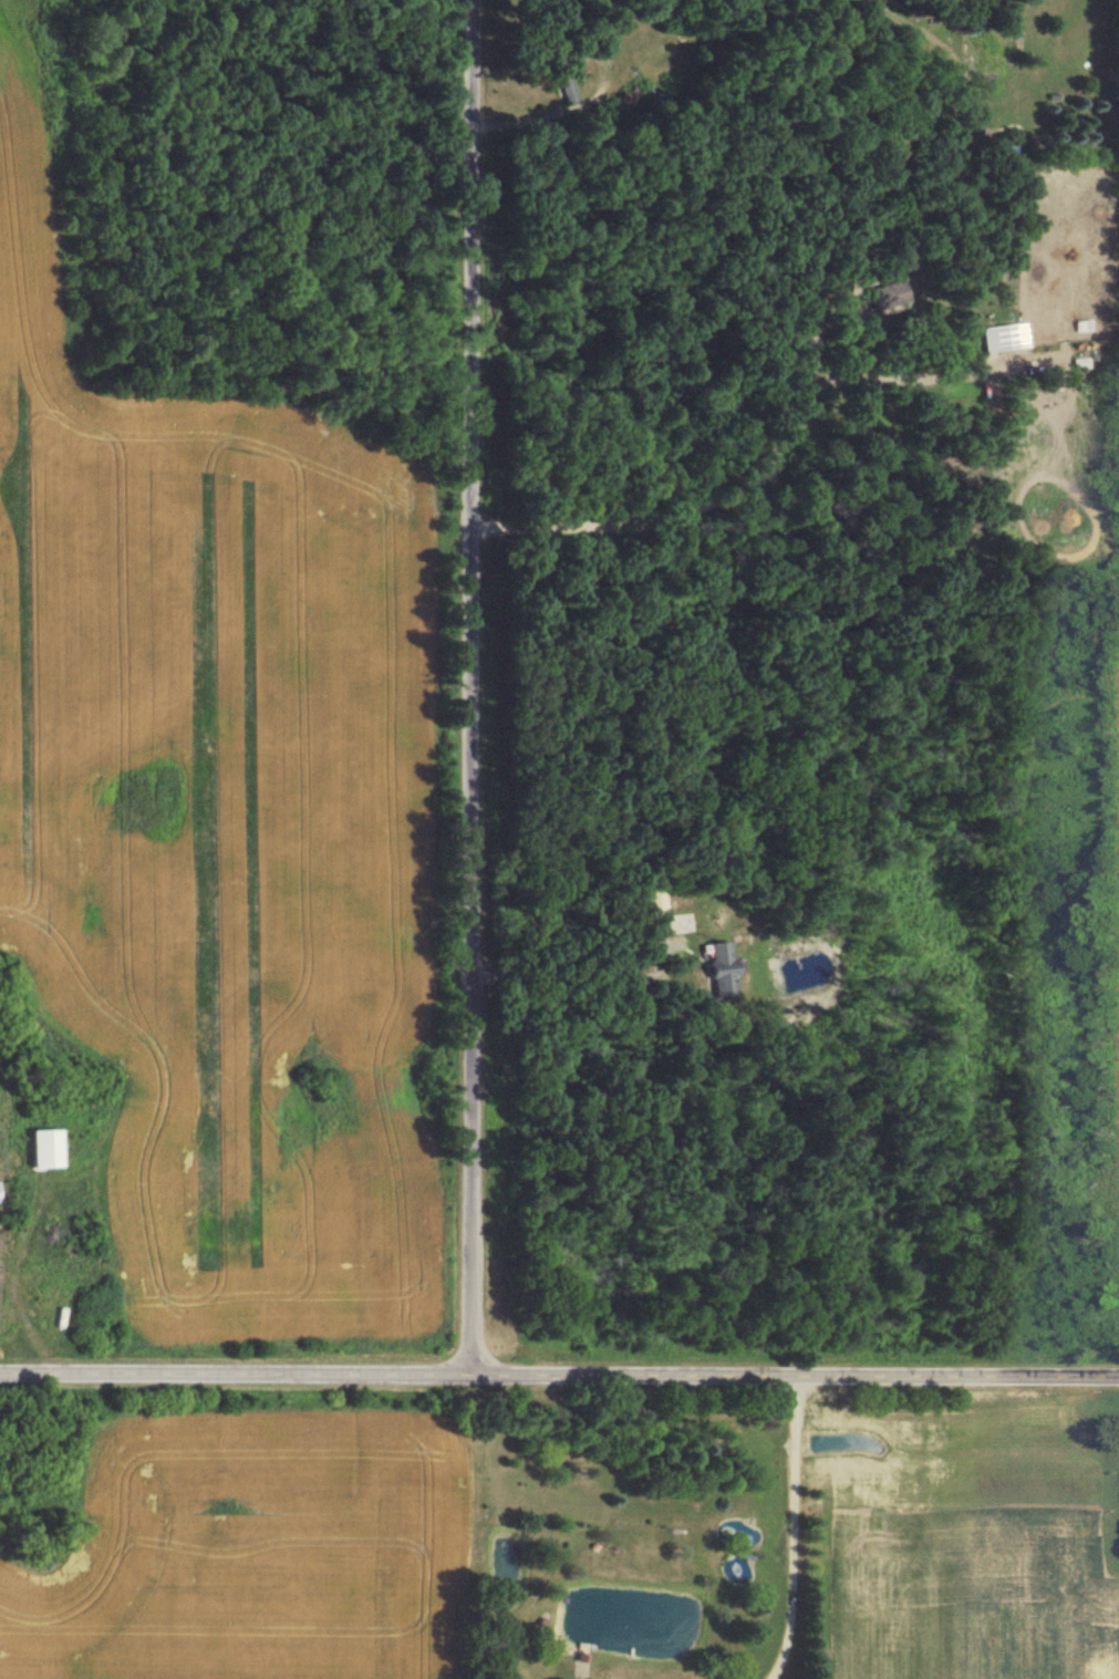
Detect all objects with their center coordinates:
building: (1002, 335)
road: (475, 688)
building: (721, 966)
building: (40, 1148)
road: (559, 1377)

